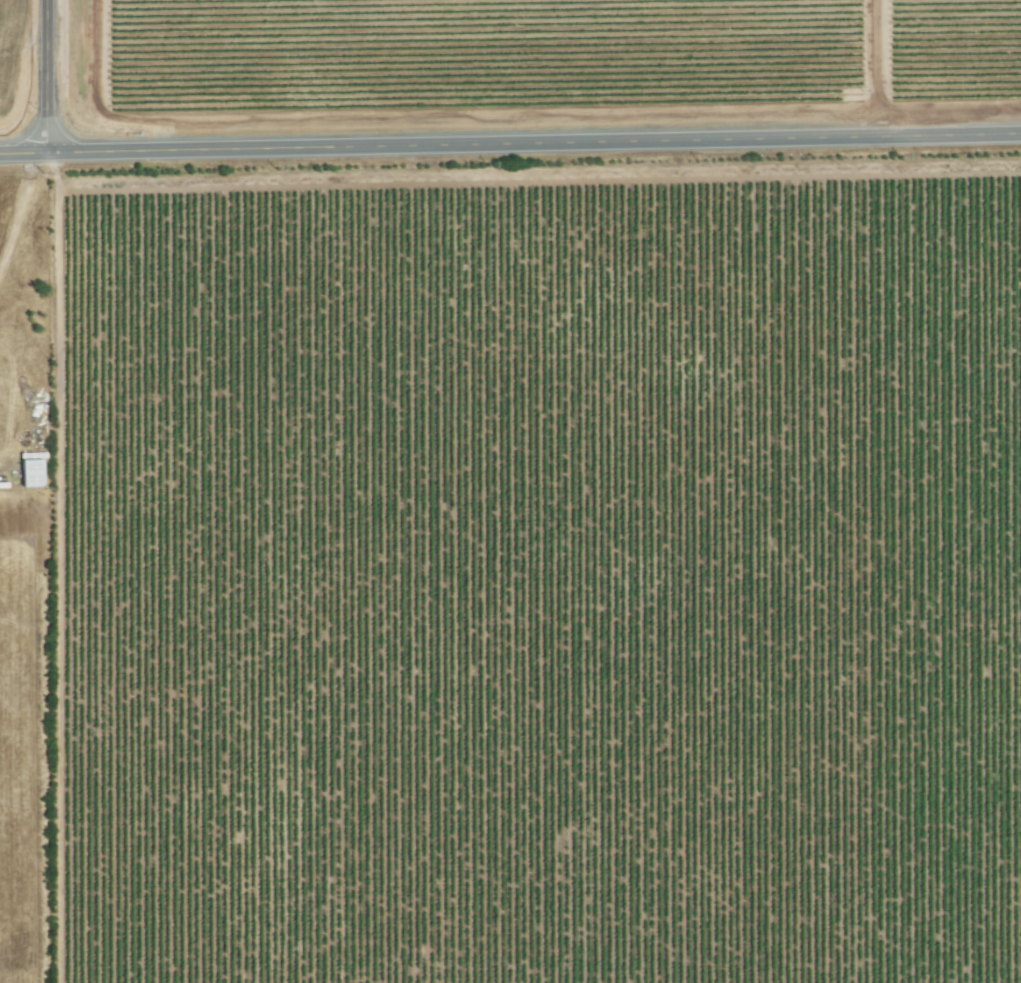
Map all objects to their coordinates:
road: (887, 69)
road: (51, 76)
road: (510, 144)
building: (31, 473)
landfill: (27, 574)

